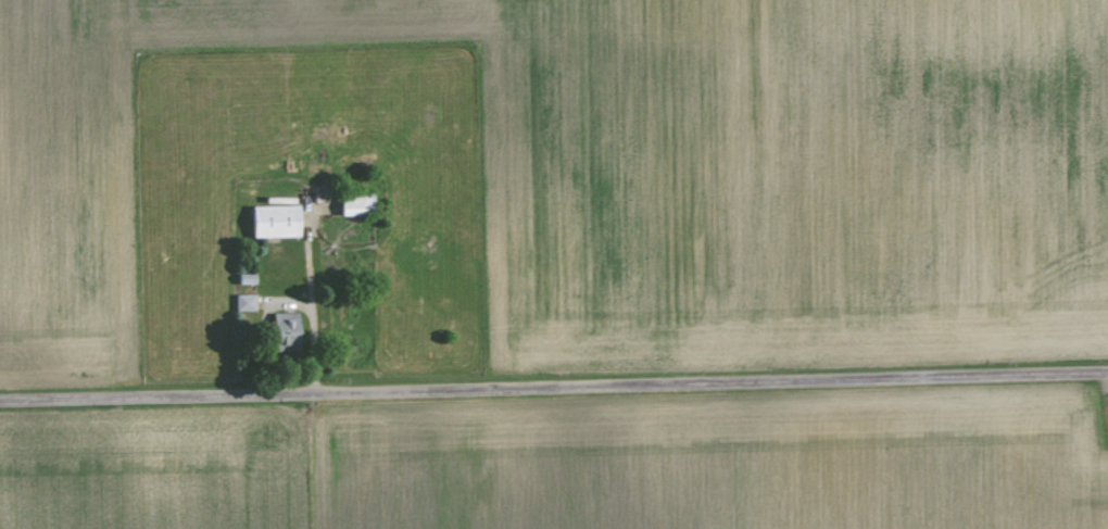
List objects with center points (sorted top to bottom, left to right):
building: (350, 205)
building: (269, 218)
building: (241, 302)
building: (278, 331)
road: (554, 386)

